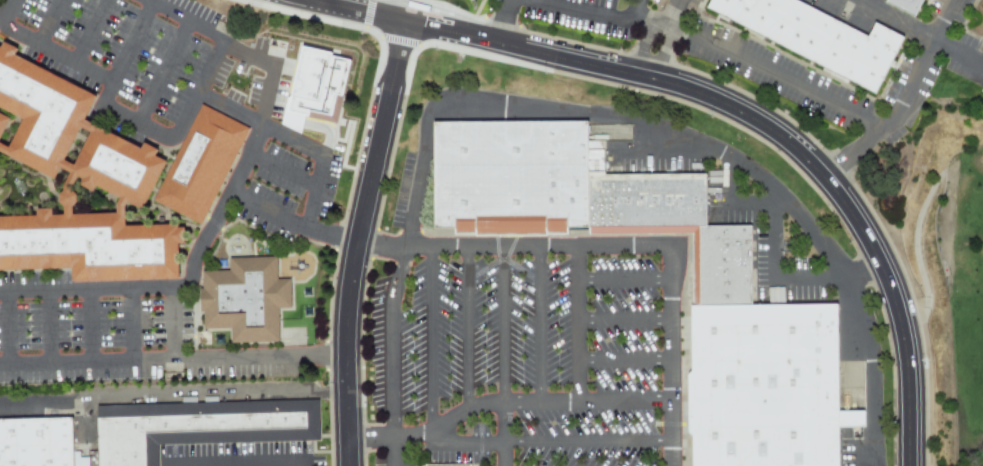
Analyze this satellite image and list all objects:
road: (150, 1)
building: (468, 1)
road: (324, 2)
building: (912, 4)
road: (584, 9)
road: (637, 9)
road: (670, 13)
road: (650, 19)
road: (504, 21)
road: (48, 22)
road: (89, 30)
road: (919, 31)
building: (820, 36)
road: (643, 43)
road: (44, 47)
road: (664, 51)
road: (125, 54)
road: (266, 68)
road: (774, 72)
road: (163, 74)
building: (315, 87)
road: (195, 91)
road: (901, 97)
road: (728, 101)
building: (34, 117)
road: (688, 139)
road: (290, 140)
building: (202, 166)
road: (281, 169)
building: (114, 172)
building: (509, 172)
building: (646, 198)
road: (725, 205)
road: (289, 220)
road: (355, 241)
road: (515, 245)
building: (28, 252)
building: (124, 259)
building: (724, 264)
road: (863, 268)
road: (773, 274)
road: (626, 279)
road: (180, 285)
building: (244, 297)
road: (627, 317)
road: (171, 322)
road: (502, 322)
road: (540, 322)
road: (578, 322)
road: (129, 324)
road: (86, 326)
road: (48, 327)
road: (466, 327)
road: (3, 329)
road: (393, 341)
road: (430, 343)
road: (675, 354)
road: (626, 358)
road: (174, 359)
building: (764, 385)
road: (174, 396)
road: (546, 400)
building: (192, 426)
road: (503, 433)
road: (427, 440)
building: (35, 442)
road: (589, 442)
road: (394, 453)
road: (234, 464)
building: (445, 465)

